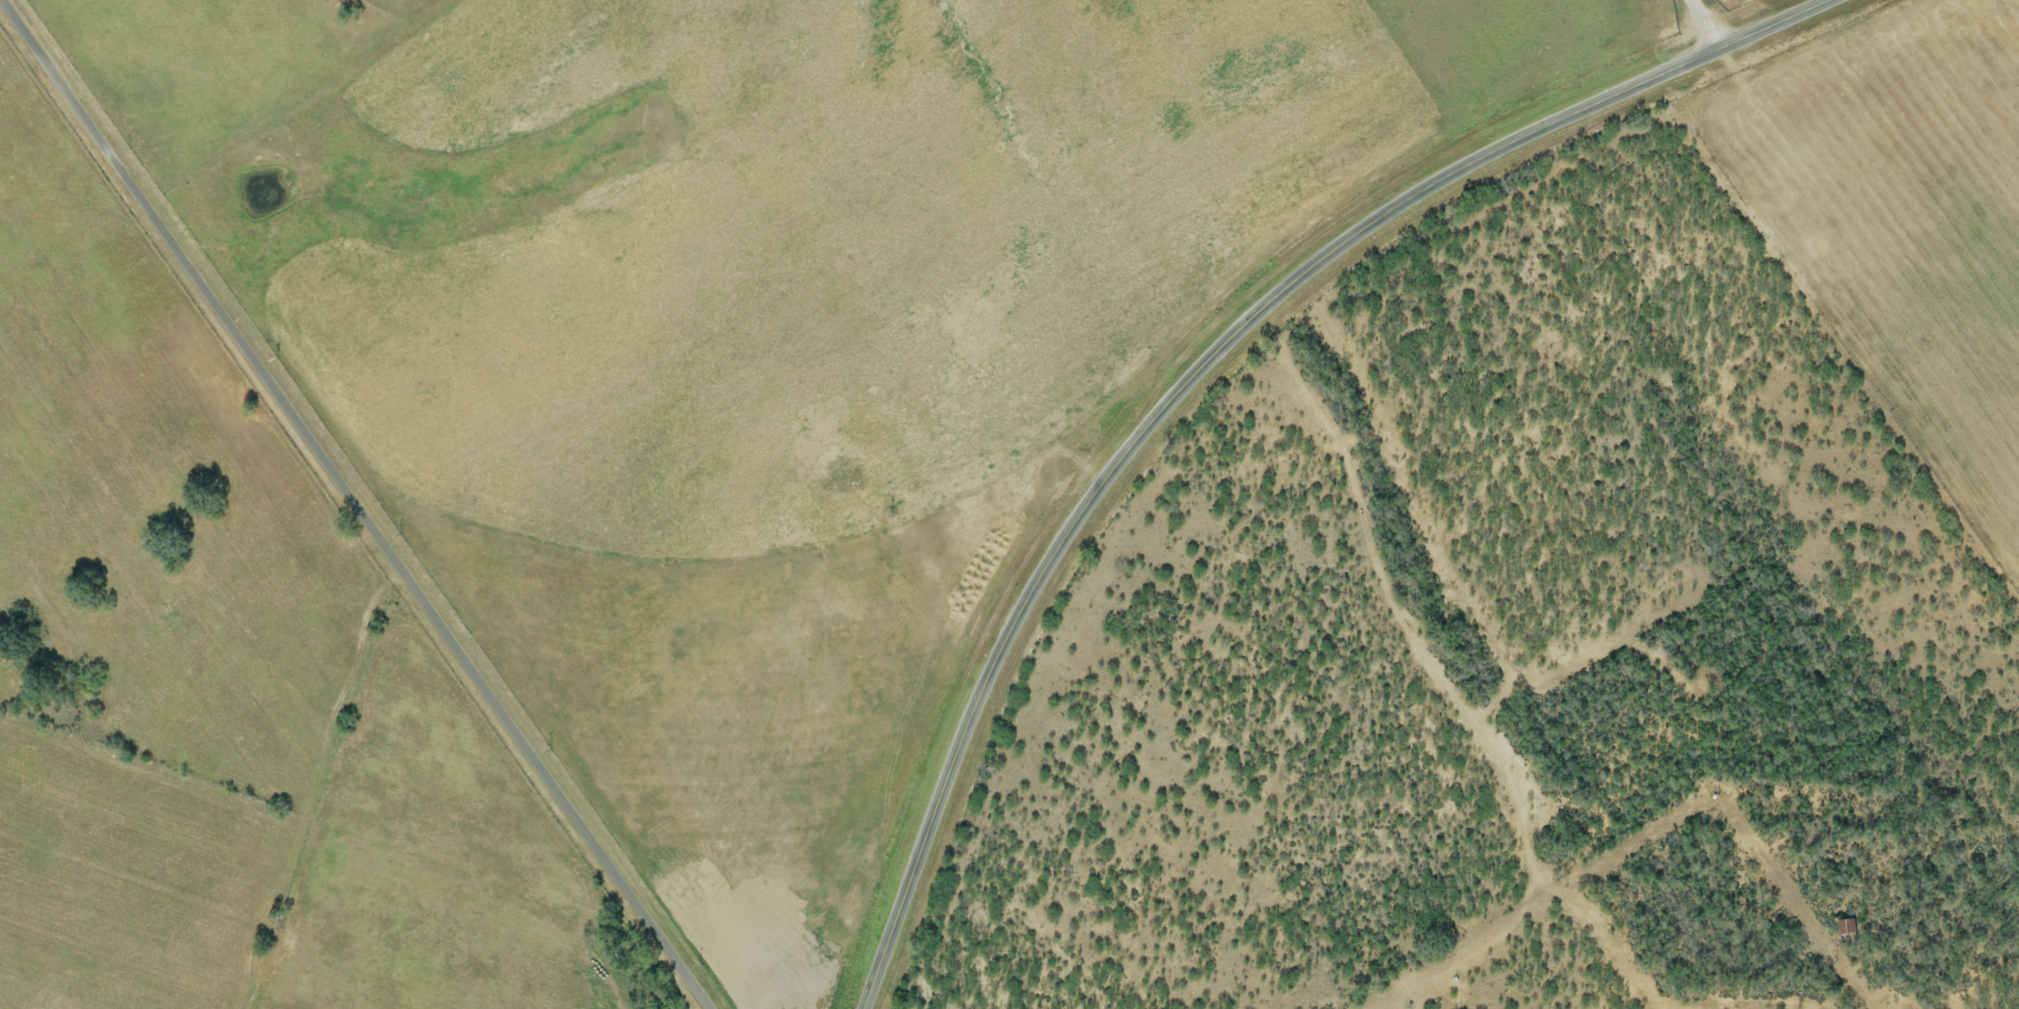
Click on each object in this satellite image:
road: (1705, 23)
road: (1199, 367)
road: (356, 504)

